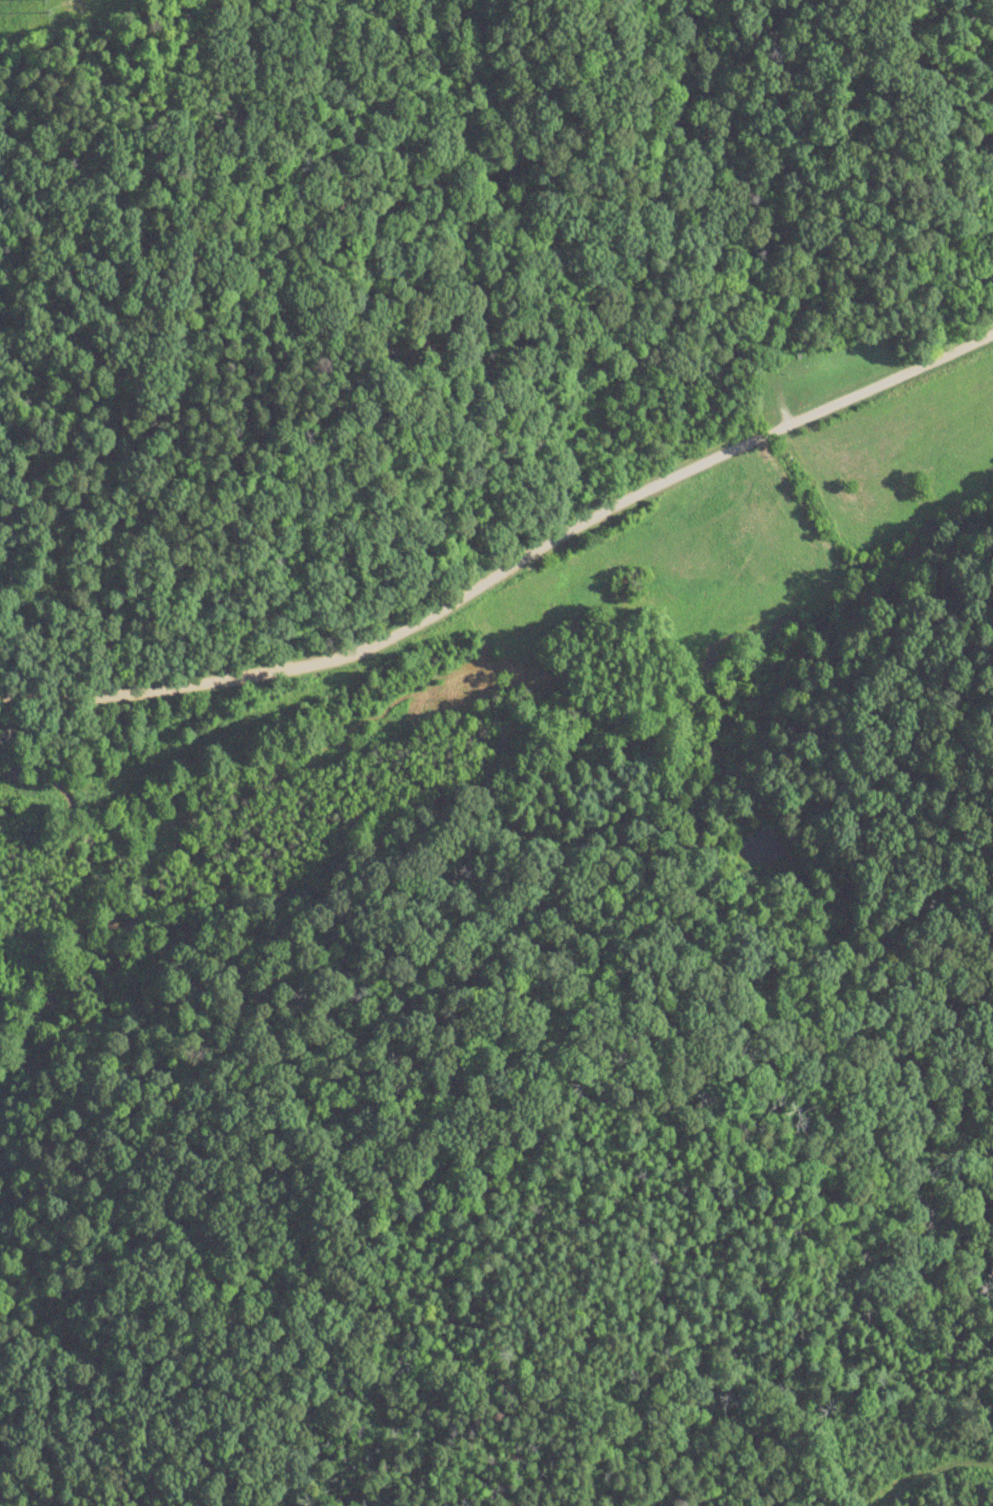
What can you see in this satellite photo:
power tower: (44, 0)
building: (813, 369)
road: (519, 597)
river: (61, 984)
road: (936, 1477)

